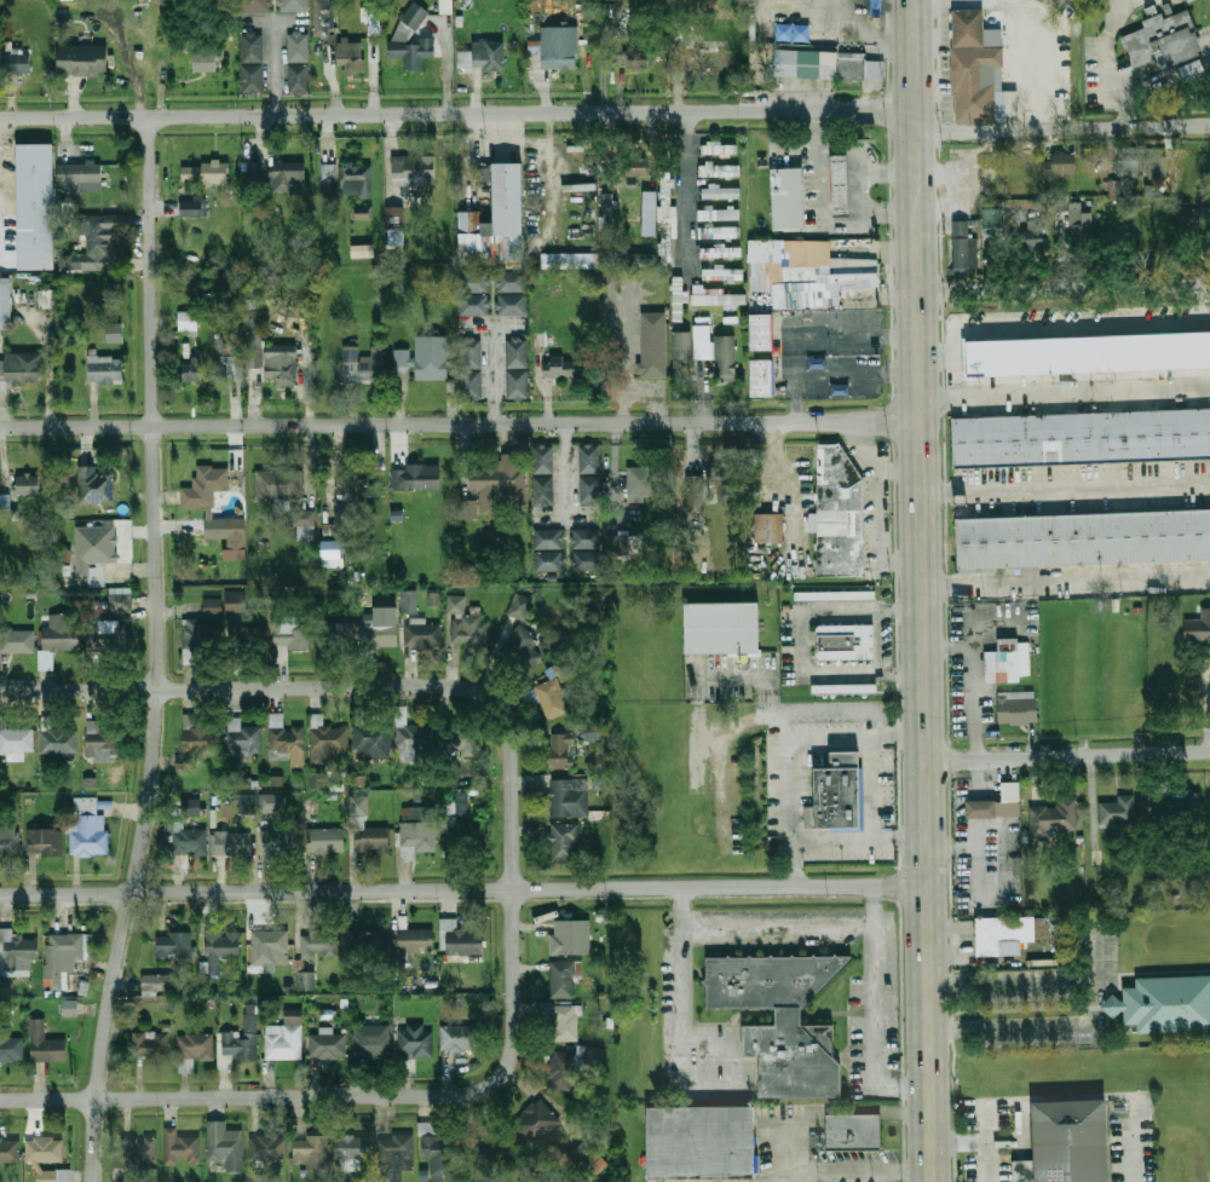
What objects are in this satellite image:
building: (257, 5)
building: (294, 5)
building: (446, 6)
building: (324, 17)
building: (375, 17)
building: (966, 27)
building: (413, 38)
building: (1164, 40)
road: (1206, 41)
building: (560, 46)
road: (1045, 50)
building: (638, 53)
building: (353, 56)
building: (483, 56)
building: (708, 57)
building: (206, 58)
building: (82, 59)
building: (17, 62)
building: (253, 62)
building: (299, 63)
building: (824, 63)
road: (273, 69)
building: (1194, 70)
building: (972, 83)
road: (459, 114)
road: (1064, 127)
building: (720, 148)
building: (1129, 162)
building: (1062, 163)
building: (1159, 165)
building: (634, 166)
road: (863, 168)
building: (414, 169)
building: (720, 171)
building: (252, 172)
building: (206, 173)
building: (290, 175)
building: (482, 175)
building: (81, 177)
building: (328, 177)
building: (357, 181)
building: (843, 184)
gas station: (843, 184)
road: (686, 188)
building: (721, 191)
building: (789, 198)
building: (36, 206)
building: (194, 206)
building: (509, 209)
building: (361, 212)
building: (605, 212)
building: (650, 213)
building: (719, 214)
road: (819, 214)
building: (393, 217)
building: (992, 219)
building: (667, 220)
building: (1186, 224)
building: (719, 232)
building: (396, 236)
building: (1031, 236)
building: (1081, 238)
building: (963, 243)
building: (1118, 246)
building: (92, 248)
building: (361, 249)
building: (639, 258)
building: (569, 259)
building: (803, 271)
building: (722, 272)
building: (509, 281)
road: (1065, 287)
building: (472, 292)
building: (46, 298)
building: (6, 299)
road: (1206, 301)
building: (511, 304)
building: (186, 322)
road: (478, 324)
road: (1077, 327)
building: (113, 331)
building: (757, 331)
building: (652, 344)
building: (681, 347)
building: (714, 350)
building: (253, 351)
road: (941, 351)
building: (1089, 352)
road: (621, 354)
building: (431, 357)
road: (490, 362)
building: (280, 363)
building: (402, 363)
building: (370, 364)
building: (232, 367)
building: (559, 367)
building: (19, 368)
building: (515, 368)
building: (104, 369)
building: (190, 369)
building: (469, 369)
building: (760, 376)
road: (651, 393)
road: (1066, 394)
road: (461, 423)
building: (1082, 438)
building: (542, 459)
building: (588, 459)
road: (565, 468)
road: (899, 473)
building: (416, 477)
building: (722, 482)
road: (782, 482)
building: (278, 483)
building: (639, 483)
building: (24, 484)
building: (352, 484)
building: (94, 485)
building: (494, 485)
road: (1066, 488)
building: (542, 489)
building: (588, 489)
building: (697, 496)
road: (878, 509)
building: (208, 512)
building: (839, 513)
building: (301, 521)
building: (767, 527)
building: (584, 537)
building: (547, 538)
building: (1084, 538)
building: (626, 543)
building: (93, 550)
building: (332, 553)
building: (547, 560)
building: (586, 560)
road: (1067, 578)
road: (924, 590)
building: (836, 595)
building: (120, 599)
building: (408, 600)
building: (234, 601)
building: (454, 602)
building: (212, 606)
building: (518, 606)
road: (863, 607)
building: (725, 628)
building: (1198, 628)
building: (468, 629)
building: (104, 632)
building: (289, 632)
building: (379, 633)
building: (421, 633)
building: (244, 635)
building: (334, 635)
building: (56, 636)
building: (194, 638)
building: (17, 640)
building: (846, 641)
building: (522, 646)
road: (157, 651)
building: (1009, 659)
road: (830, 673)
road: (737, 675)
road: (973, 681)
road: (345, 687)
building: (846, 688)
building: (553, 700)
road: (813, 707)
building: (1018, 707)
road: (875, 721)
road: (776, 723)
building: (589, 731)
road: (727, 733)
building: (198, 736)
road: (900, 736)
road: (831, 737)
building: (241, 738)
building: (409, 738)
building: (286, 739)
building: (325, 739)
building: (371, 739)
building: (57, 740)
building: (15, 742)
building: (99, 742)
building: (461, 743)
building: (560, 750)
road: (1067, 756)
building: (183, 761)
building: (839, 792)
building: (565, 798)
building: (244, 802)
building: (270, 802)
building: (997, 803)
building: (192, 806)
building: (1175, 808)
building: (455, 809)
building: (1117, 812)
road: (791, 813)
building: (1055, 815)
building: (364, 829)
road: (876, 829)
building: (88, 830)
building: (416, 830)
road: (900, 837)
building: (277, 838)
building: (8, 840)
building: (323, 840)
building: (44, 841)
building: (195, 841)
building: (564, 841)
building: (230, 842)
road: (463, 890)
road: (772, 927)
building: (1003, 932)
building: (569, 936)
building: (459, 938)
building: (414, 939)
building: (364, 941)
building: (317, 942)
building: (173, 945)
building: (266, 945)
building: (220, 947)
building: (16, 952)
building: (64, 956)
building: (560, 979)
building: (305, 980)
building: (155, 984)
road: (1091, 997)
building: (1169, 1004)
building: (1114, 1005)
road: (678, 1010)
building: (782, 1019)
building: (564, 1022)
road: (872, 1032)
building: (284, 1037)
building: (459, 1037)
building: (370, 1039)
building: (413, 1042)
building: (45, 1043)
building: (150, 1044)
building: (325, 1044)
building: (12, 1046)
building: (236, 1046)
building: (192, 1049)
building: (572, 1063)
road: (348, 1097)
building: (535, 1120)
building: (854, 1132)
road: (975, 1138)
building: (1071, 1140)
building: (702, 1141)
road: (784, 1141)
building: (225, 1144)
building: (181, 1147)
building: (269, 1147)
building: (351, 1147)
road: (1131, 1148)
building: (138, 1149)
building: (394, 1149)
building: (10, 1151)
building: (45, 1151)
building: (310, 1151)
building: (438, 1155)
building: (587, 1158)
road: (987, 1160)
building: (53, 1176)

